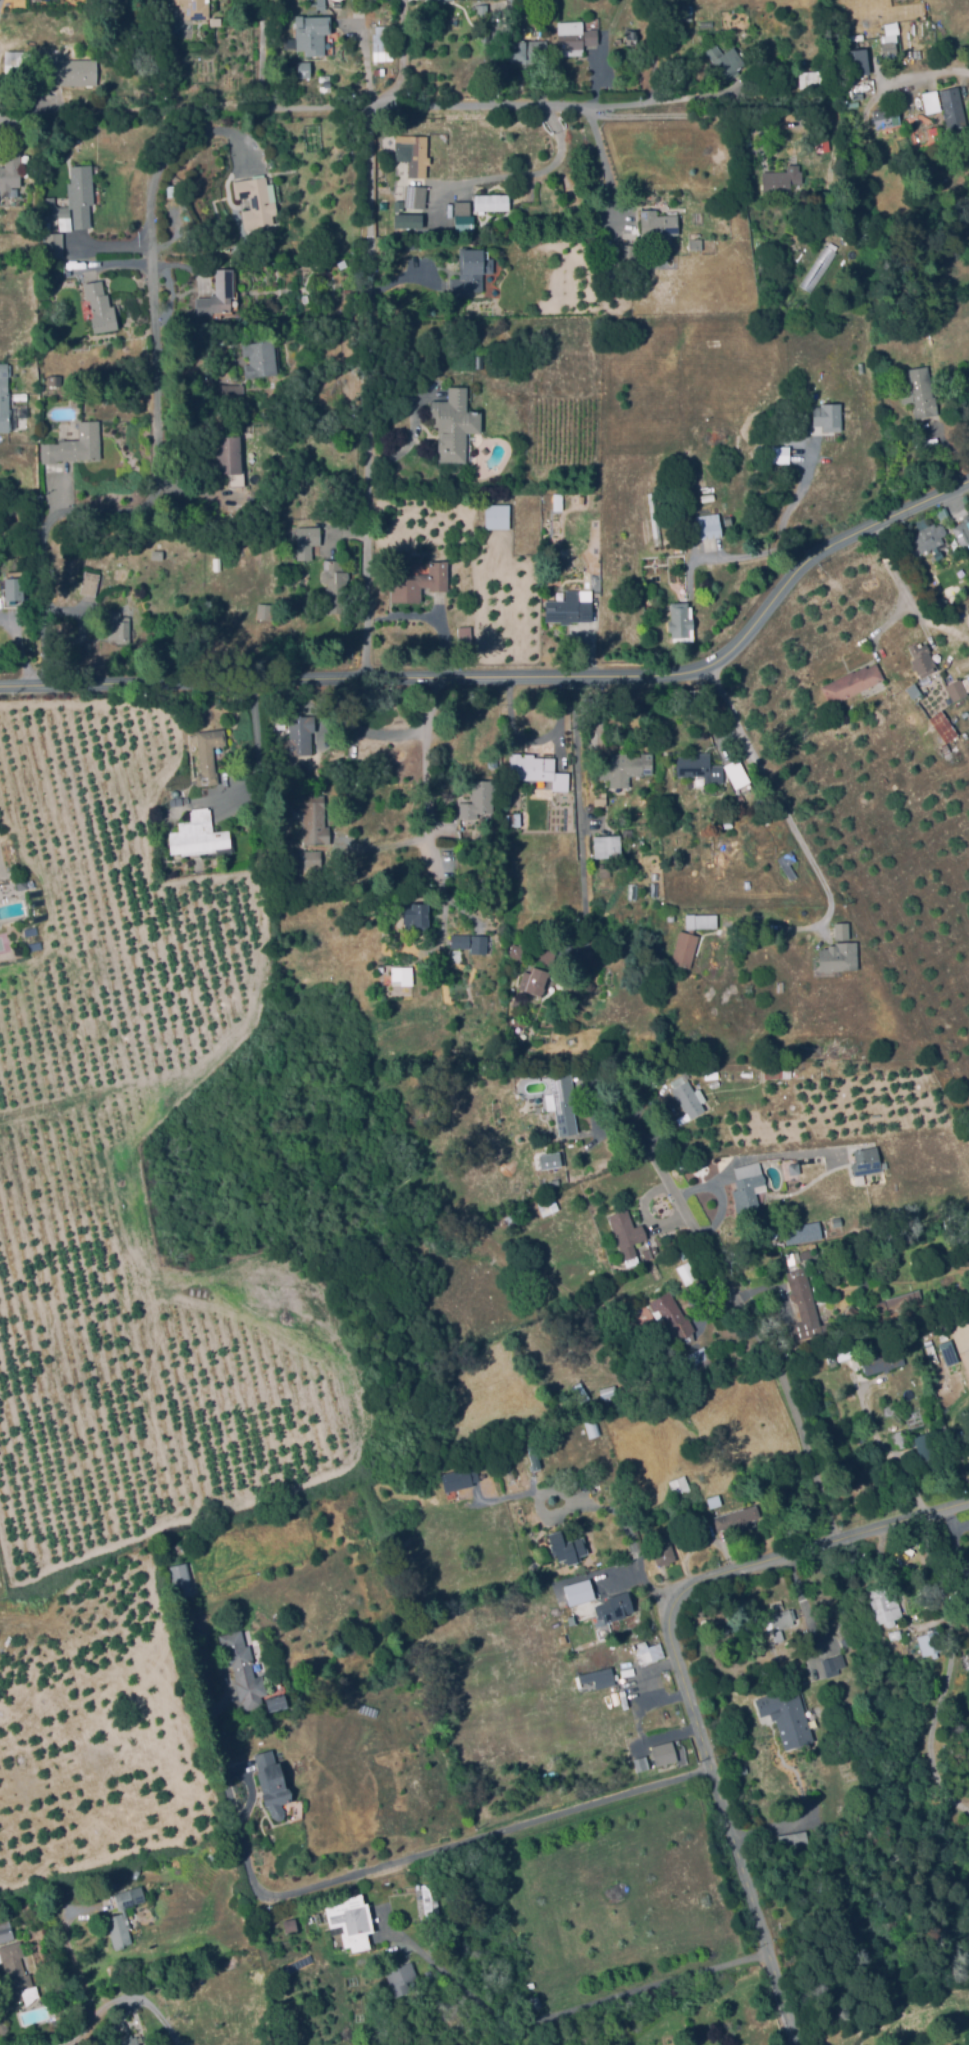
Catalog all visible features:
building: (329, 0)
building: (432, 1)
building: (321, 4)
building: (511, 7)
building: (197, 8)
building: (482, 11)
building: (687, 11)
building: (312, 33)
building: (487, 37)
building: (574, 37)
building: (382, 42)
building: (22, 45)
road: (260, 51)
building: (526, 51)
building: (883, 51)
building: (210, 55)
building: (725, 60)
building: (18, 64)
building: (848, 68)
building: (305, 69)
building: (72, 71)
road: (923, 73)
road: (596, 74)
building: (813, 79)
building: (325, 83)
road: (666, 99)
building: (917, 101)
building: (932, 101)
road: (294, 104)
building: (953, 105)
building: (886, 117)
road: (194, 137)
building: (416, 154)
road: (602, 163)
building: (11, 170)
building: (34, 170)
road: (505, 177)
building: (781, 182)
building: (419, 192)
building: (81, 194)
building: (495, 198)
building: (256, 202)
building: (465, 206)
building: (406, 221)
building: (659, 226)
building: (621, 235)
road: (115, 244)
building: (51, 245)
building: (414, 245)
building: (696, 245)
building: (771, 249)
building: (631, 256)
road: (178, 268)
road: (122, 269)
building: (473, 269)
building: (613, 284)
building: (224, 289)
building: (100, 307)
building: (223, 340)
building: (909, 353)
building: (259, 356)
building: (55, 380)
building: (226, 392)
road: (370, 392)
building: (921, 392)
building: (5, 397)
building: (825, 417)
building: (458, 420)
building: (75, 445)
road: (404, 446)
building: (227, 452)
road: (159, 486)
building: (673, 487)
building: (663, 495)
building: (497, 516)
building: (655, 520)
building: (709, 525)
building: (679, 526)
building: (963, 532)
building: (929, 537)
building: (308, 540)
building: (492, 542)
building: (158, 554)
road: (734, 558)
building: (337, 580)
building: (418, 583)
building: (90, 584)
building: (12, 589)
building: (118, 594)
road: (916, 606)
building: (570, 608)
building: (265, 611)
building: (682, 624)
building: (118, 626)
building: (465, 640)
building: (923, 659)
road: (516, 673)
building: (852, 683)
building: (956, 689)
building: (914, 690)
building: (943, 725)
building: (300, 735)
building: (947, 751)
road: (257, 752)
building: (209, 755)
building: (701, 767)
building: (625, 768)
building: (537, 772)
building: (738, 772)
building: (480, 792)
building: (601, 800)
building: (179, 801)
building: (738, 805)
building: (314, 819)
building: (513, 819)
road: (582, 820)
road: (795, 833)
building: (198, 835)
building: (607, 846)
building: (306, 860)
building: (789, 866)
building: (605, 871)
building: (22, 884)
building: (793, 915)
building: (413, 916)
building: (670, 917)
building: (702, 920)
building: (839, 931)
building: (472, 942)
building: (685, 949)
building: (516, 951)
building: (547, 951)
building: (359, 953)
building: (839, 956)
building: (403, 975)
building: (536, 981)
building: (780, 986)
building: (777, 1072)
building: (688, 1094)
building: (564, 1104)
road: (769, 1155)
building: (551, 1158)
building: (871, 1159)
building: (797, 1166)
building: (747, 1186)
road: (719, 1194)
building: (548, 1206)
building: (510, 1219)
building: (810, 1230)
building: (627, 1235)
building: (683, 1254)
building: (652, 1266)
building: (814, 1273)
building: (434, 1294)
building: (903, 1299)
building: (806, 1305)
building: (881, 1308)
building: (852, 1313)
building: (674, 1317)
road: (758, 1324)
building: (944, 1337)
building: (928, 1343)
building: (946, 1352)
building: (701, 1355)
building: (883, 1361)
building: (580, 1391)
building: (609, 1394)
building: (882, 1395)
building: (591, 1425)
building: (895, 1432)
building: (927, 1450)
road: (886, 1451)
building: (509, 1471)
building: (458, 1479)
building: (679, 1485)
road: (569, 1495)
building: (715, 1501)
building: (737, 1517)
building: (567, 1547)
building: (665, 1555)
building: (968, 1563)
building: (183, 1581)
road: (651, 1589)
building: (589, 1591)
building: (887, 1604)
building: (614, 1608)
building: (578, 1615)
building: (565, 1617)
building: (830, 1619)
building: (781, 1622)
building: (602, 1631)
building: (562, 1637)
building: (930, 1644)
building: (648, 1646)
building: (833, 1664)
building: (245, 1671)
building: (597, 1677)
road: (686, 1677)
building: (809, 1718)
building: (788, 1719)
building: (639, 1745)
building: (665, 1753)
building: (643, 1762)
building: (744, 1769)
building: (274, 1785)
building: (794, 1840)
road: (350, 1872)
building: (135, 1873)
building: (55, 1902)
building: (428, 1903)
building: (0, 1913)
building: (123, 1915)
building: (351, 1920)
building: (290, 1924)
building: (6, 1930)
building: (15, 1968)
road: (75, 1968)
building: (402, 1974)
building: (529, 1984)
building: (535, 2000)
road: (568, 2010)
building: (131, 2041)
road: (65, 2042)

